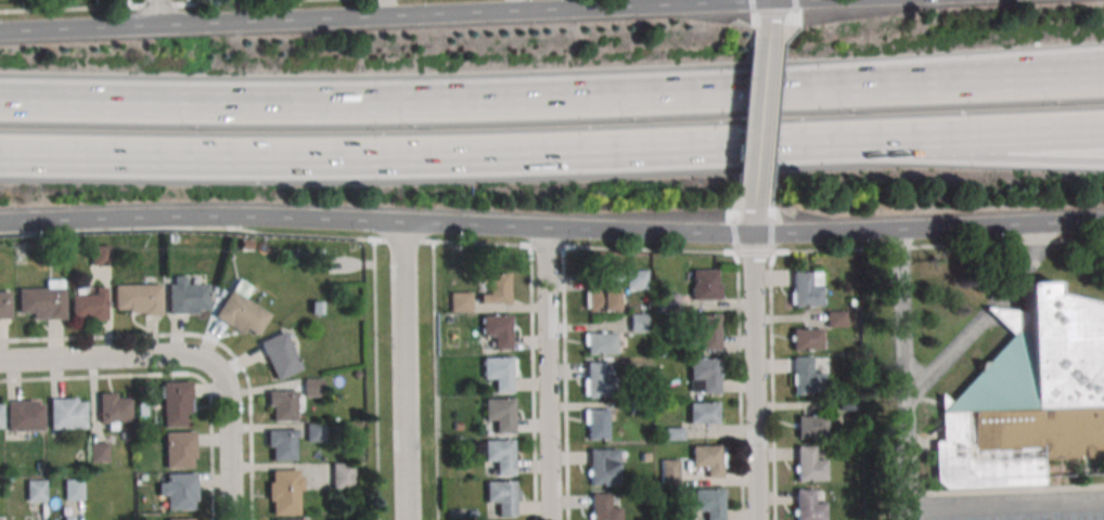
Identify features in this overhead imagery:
road: (188, 1)
road: (823, 1)
road: (769, 2)
road: (129, 3)
road: (136, 5)
road: (757, 5)
road: (790, 6)
road: (518, 8)
road: (644, 9)
road: (386, 10)
road: (156, 13)
road: (453, 17)
road: (272, 24)
road: (79, 27)
road: (758, 39)
road: (786, 39)
road: (766, 61)
road: (1064, 75)
road: (781, 90)
road: (753, 95)
road: (552, 101)
road: (1065, 132)
road: (949, 138)
road: (775, 144)
road: (748, 151)
road: (436, 155)
road: (987, 155)
road: (758, 175)
road: (771, 196)
road: (743, 199)
road: (201, 216)
road: (476, 224)
road: (928, 226)
road: (651, 230)
road: (772, 235)
road: (735, 237)
building: (174, 238)
road: (369, 239)
building: (246, 245)
road: (938, 246)
road: (756, 252)
building: (100, 255)
road: (1026, 263)
building: (636, 278)
building: (705, 284)
building: (806, 288)
building: (496, 290)
building: (187, 297)
building: (137, 298)
building: (600, 299)
building: (41, 300)
building: (460, 301)
building: (667, 301)
building: (88, 302)
building: (851, 302)
building: (4, 305)
building: (316, 308)
road: (986, 308)
building: (240, 310)
building: (837, 317)
building: (639, 322)
building: (497, 329)
building: (709, 331)
road: (204, 337)
building: (806, 338)
building: (600, 342)
building: (279, 354)
road: (945, 354)
road: (111, 364)
road: (406, 370)
building: (499, 372)
road: (551, 373)
road: (907, 373)
road: (172, 374)
building: (703, 375)
road: (756, 376)
building: (806, 376)
road: (376, 380)
road: (436, 381)
building: (599, 382)
road: (532, 383)
road: (565, 383)
road: (741, 385)
road: (772, 386)
building: (312, 387)
building: (1027, 395)
building: (175, 402)
building: (281, 405)
building: (847, 405)
building: (640, 407)
building: (113, 409)
building: (703, 412)
building: (66, 413)
building: (499, 413)
building: (24, 415)
building: (0, 416)
building: (595, 424)
building: (810, 426)
building: (458, 427)
building: (314, 431)
building: (675, 434)
building: (281, 444)
building: (179, 448)
road: (228, 448)
building: (98, 451)
building: (499, 455)
building: (644, 457)
building: (707, 459)
building: (808, 464)
building: (603, 466)
building: (39, 467)
building: (669, 469)
building: (342, 474)
building: (143, 478)
building: (73, 489)
building: (36, 490)
building: (177, 490)
building: (284, 491)
building: (502, 496)
building: (708, 502)
road: (1013, 504)
building: (807, 505)
building: (603, 507)
road: (916, 513)
building: (473, 515)
building: (68, 518)
building: (181, 519)
building: (288, 519)

